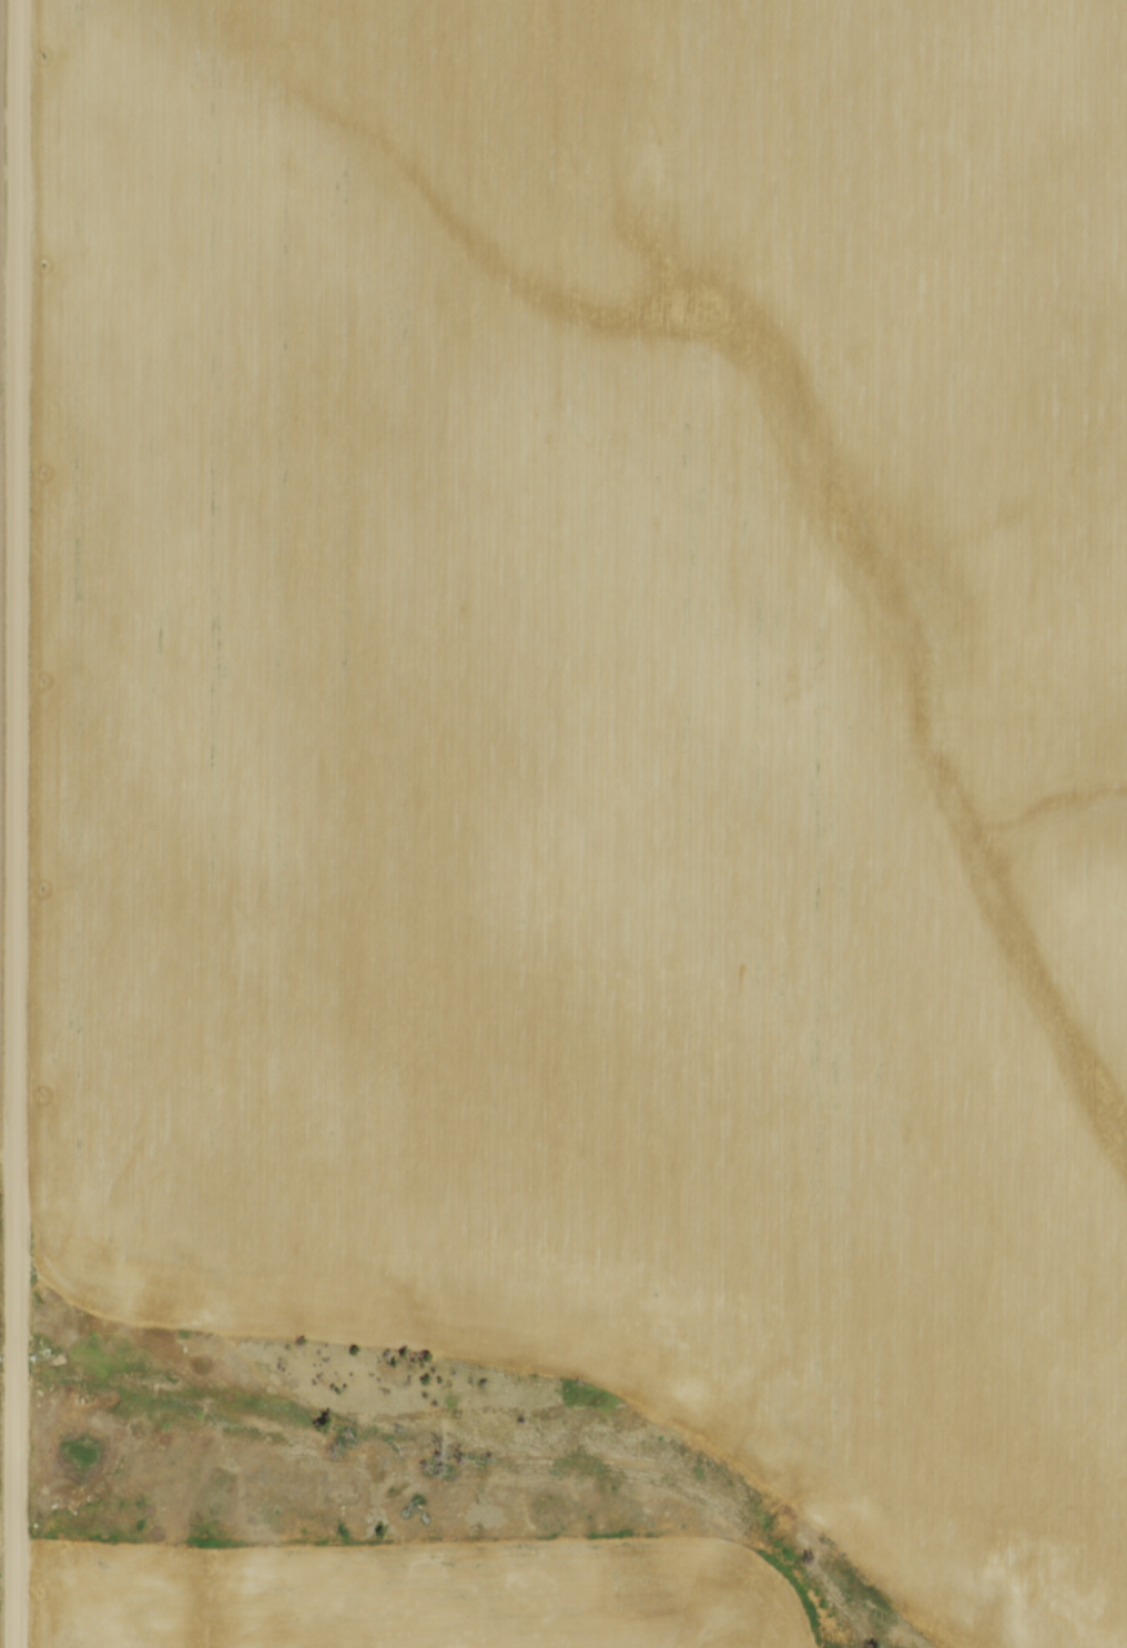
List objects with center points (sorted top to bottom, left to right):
crop: (607, 729)
road: (20, 823)
crop: (409, 1596)

